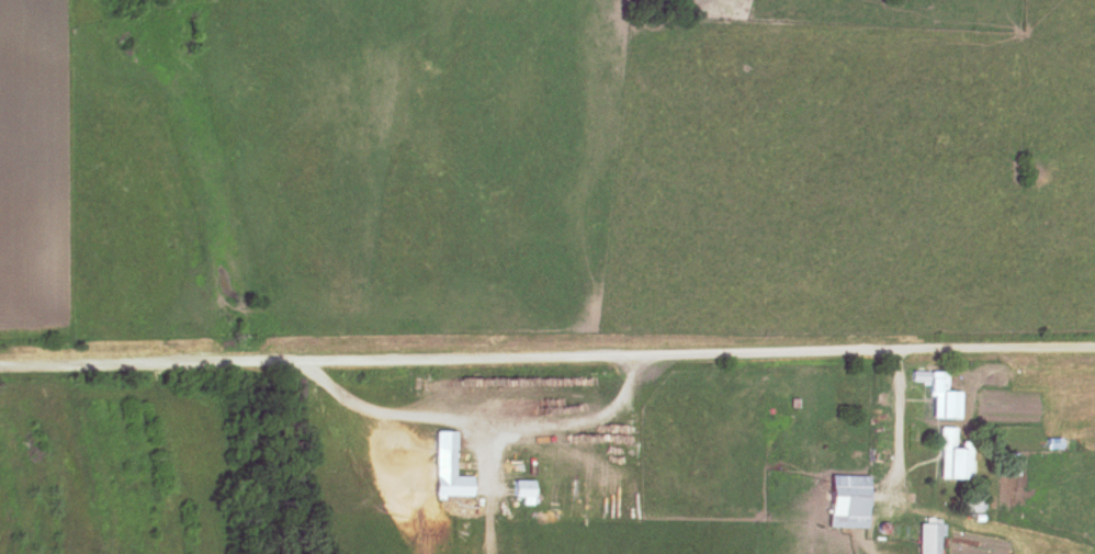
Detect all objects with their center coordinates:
road: (547, 355)
road: (898, 412)
building: (952, 455)
building: (847, 500)
building: (928, 538)

